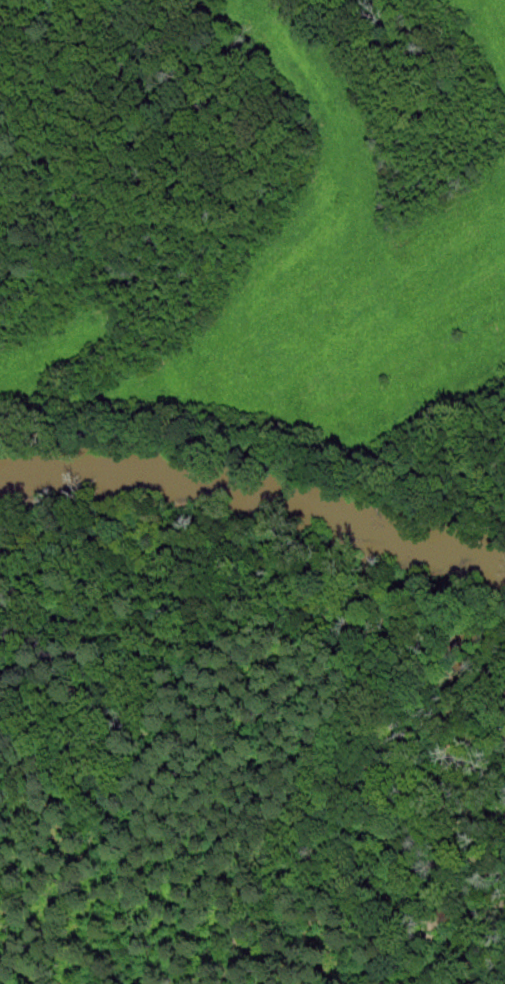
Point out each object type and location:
river: (256, 494)
road: (337, 632)

